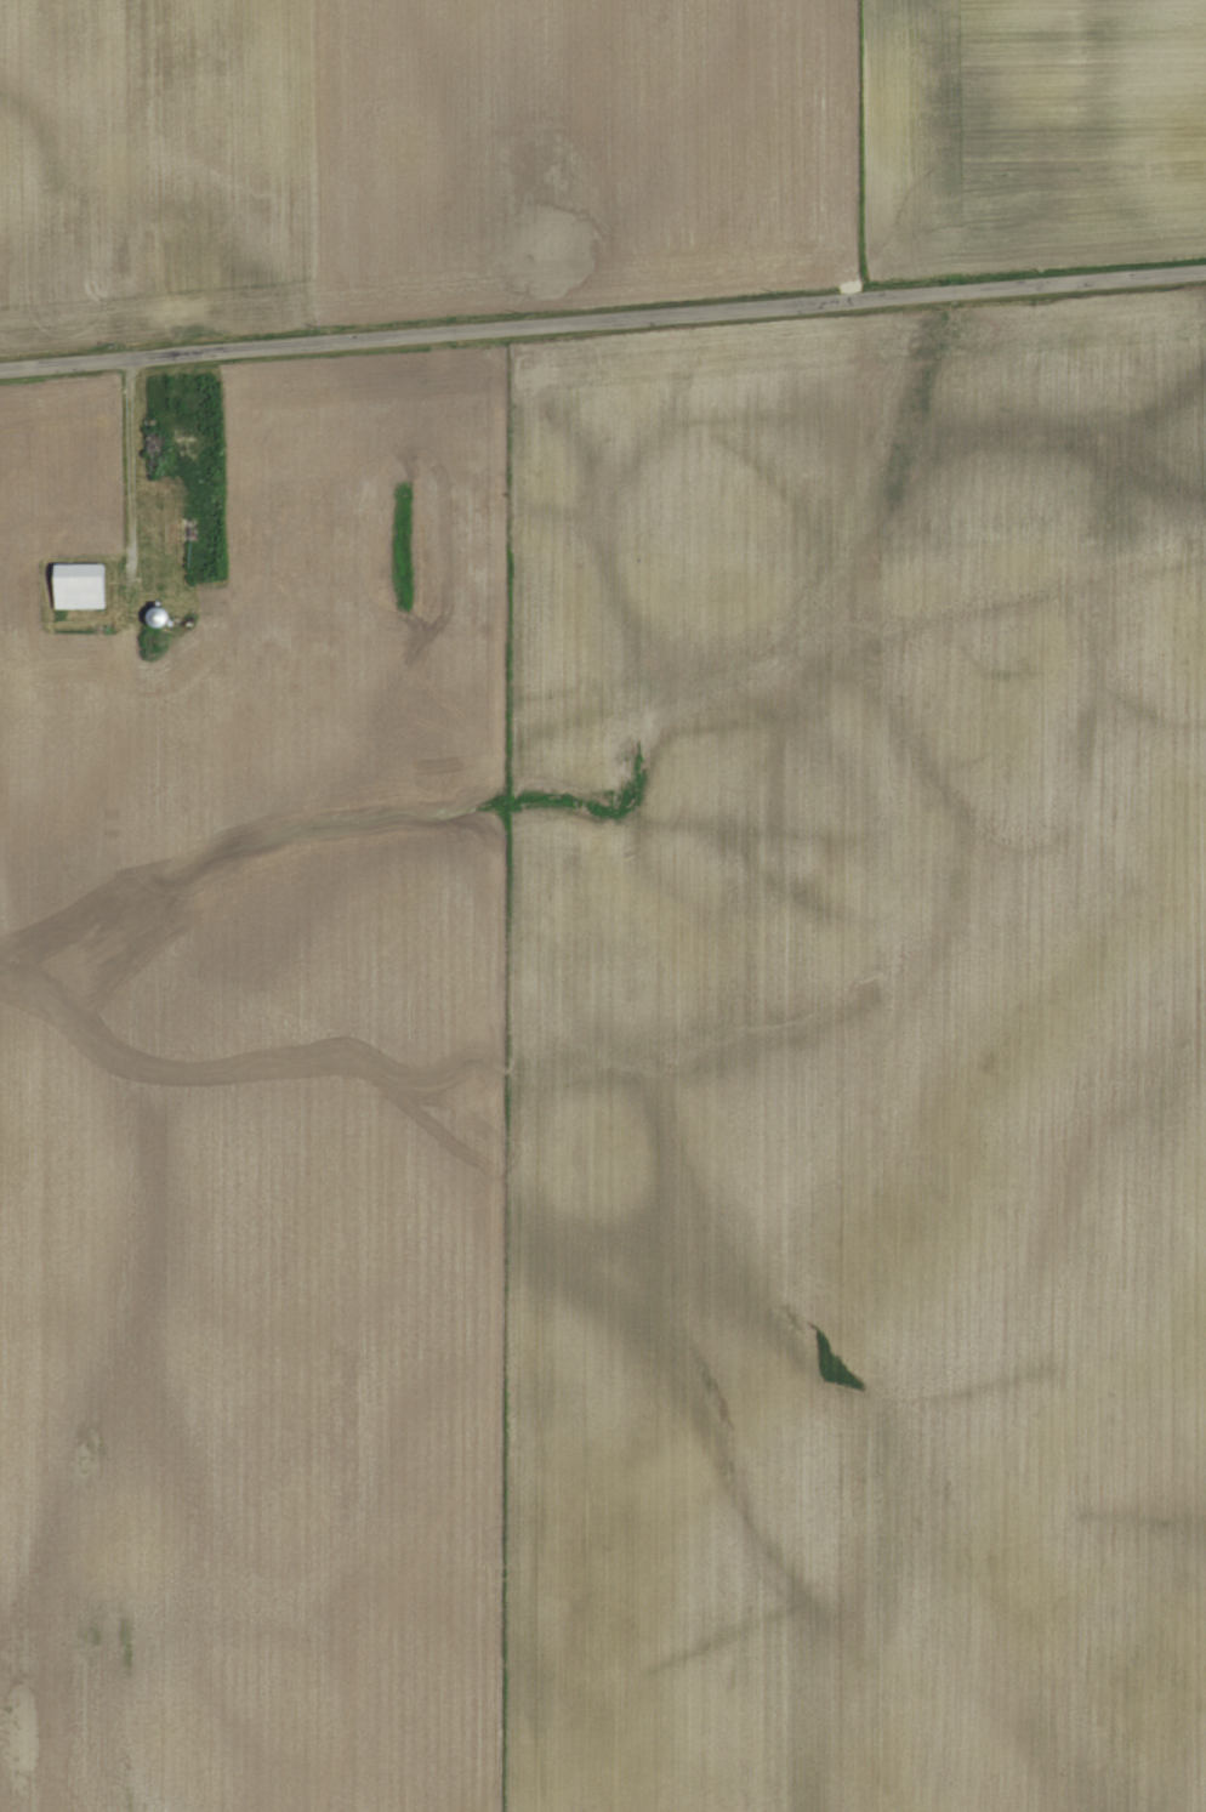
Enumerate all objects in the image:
road: (603, 318)
building: (78, 586)

